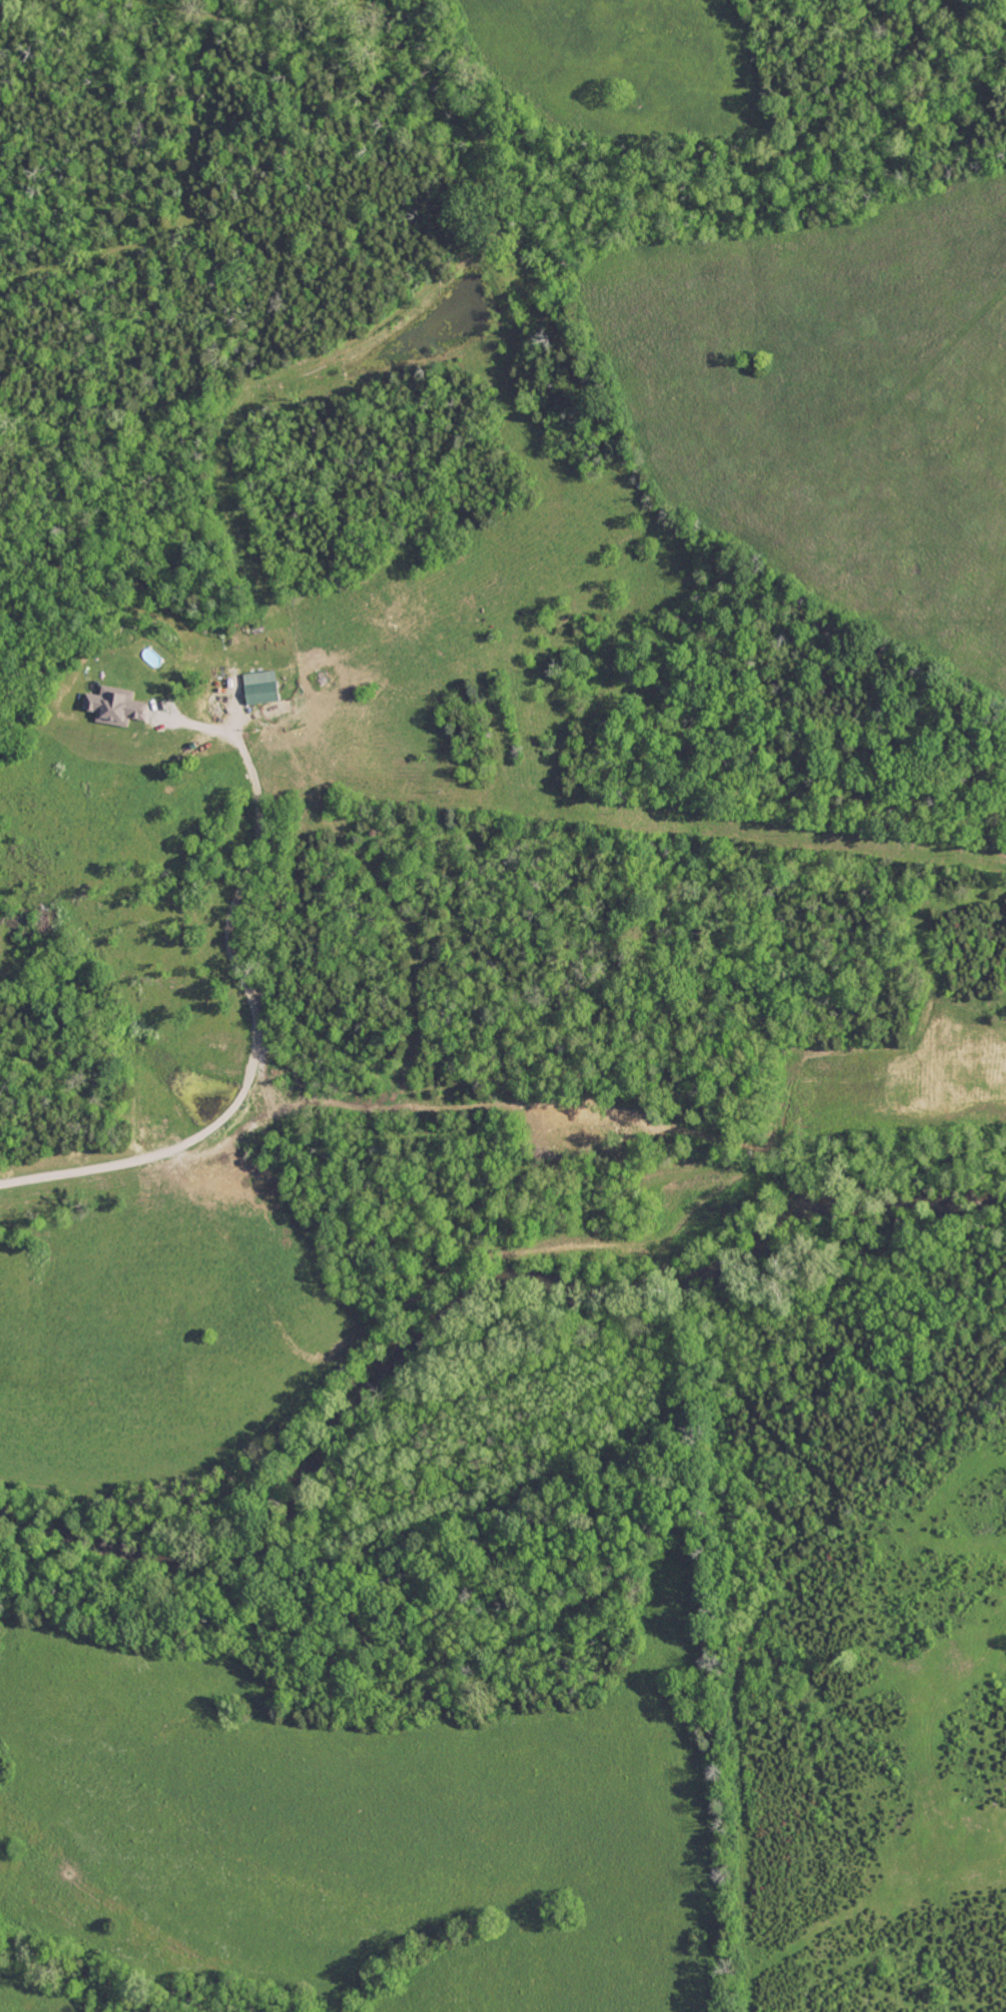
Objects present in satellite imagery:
building: (261, 686)
building: (115, 705)

